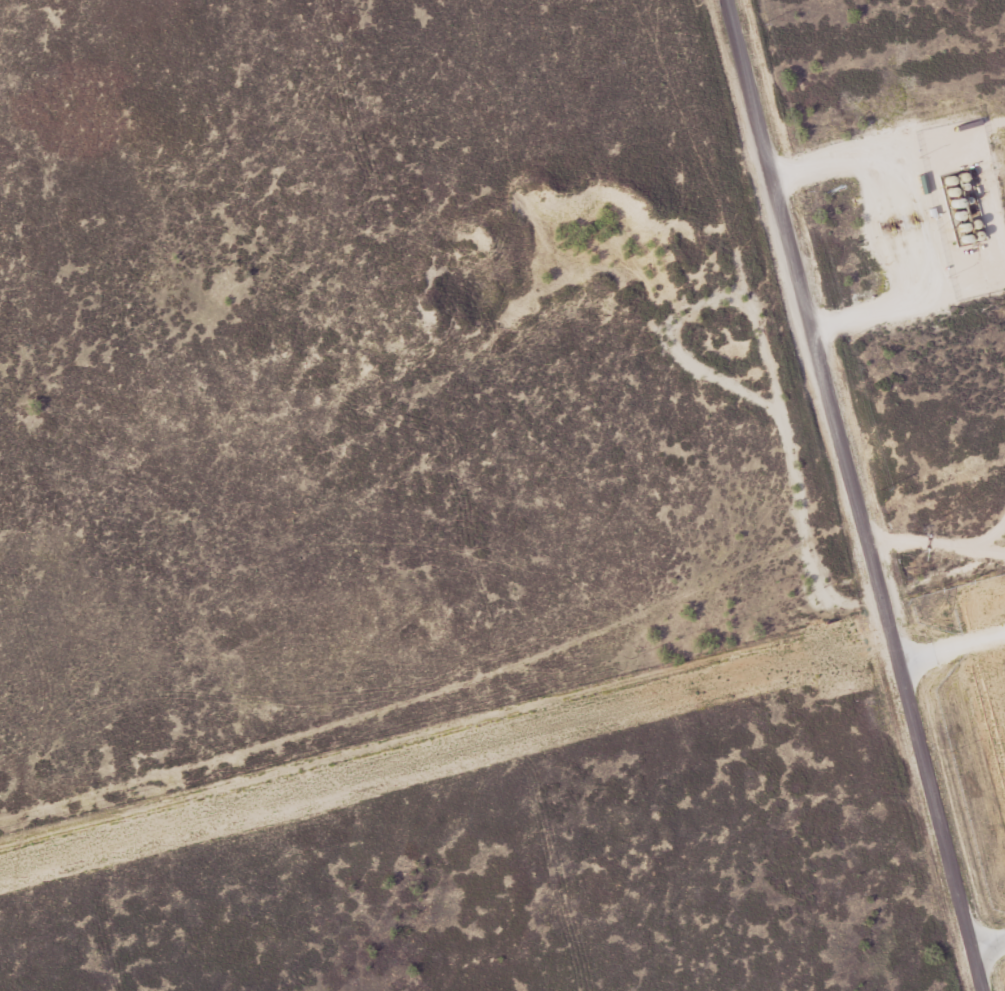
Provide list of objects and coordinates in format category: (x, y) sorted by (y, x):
road: (838, 495)
road: (982, 947)

